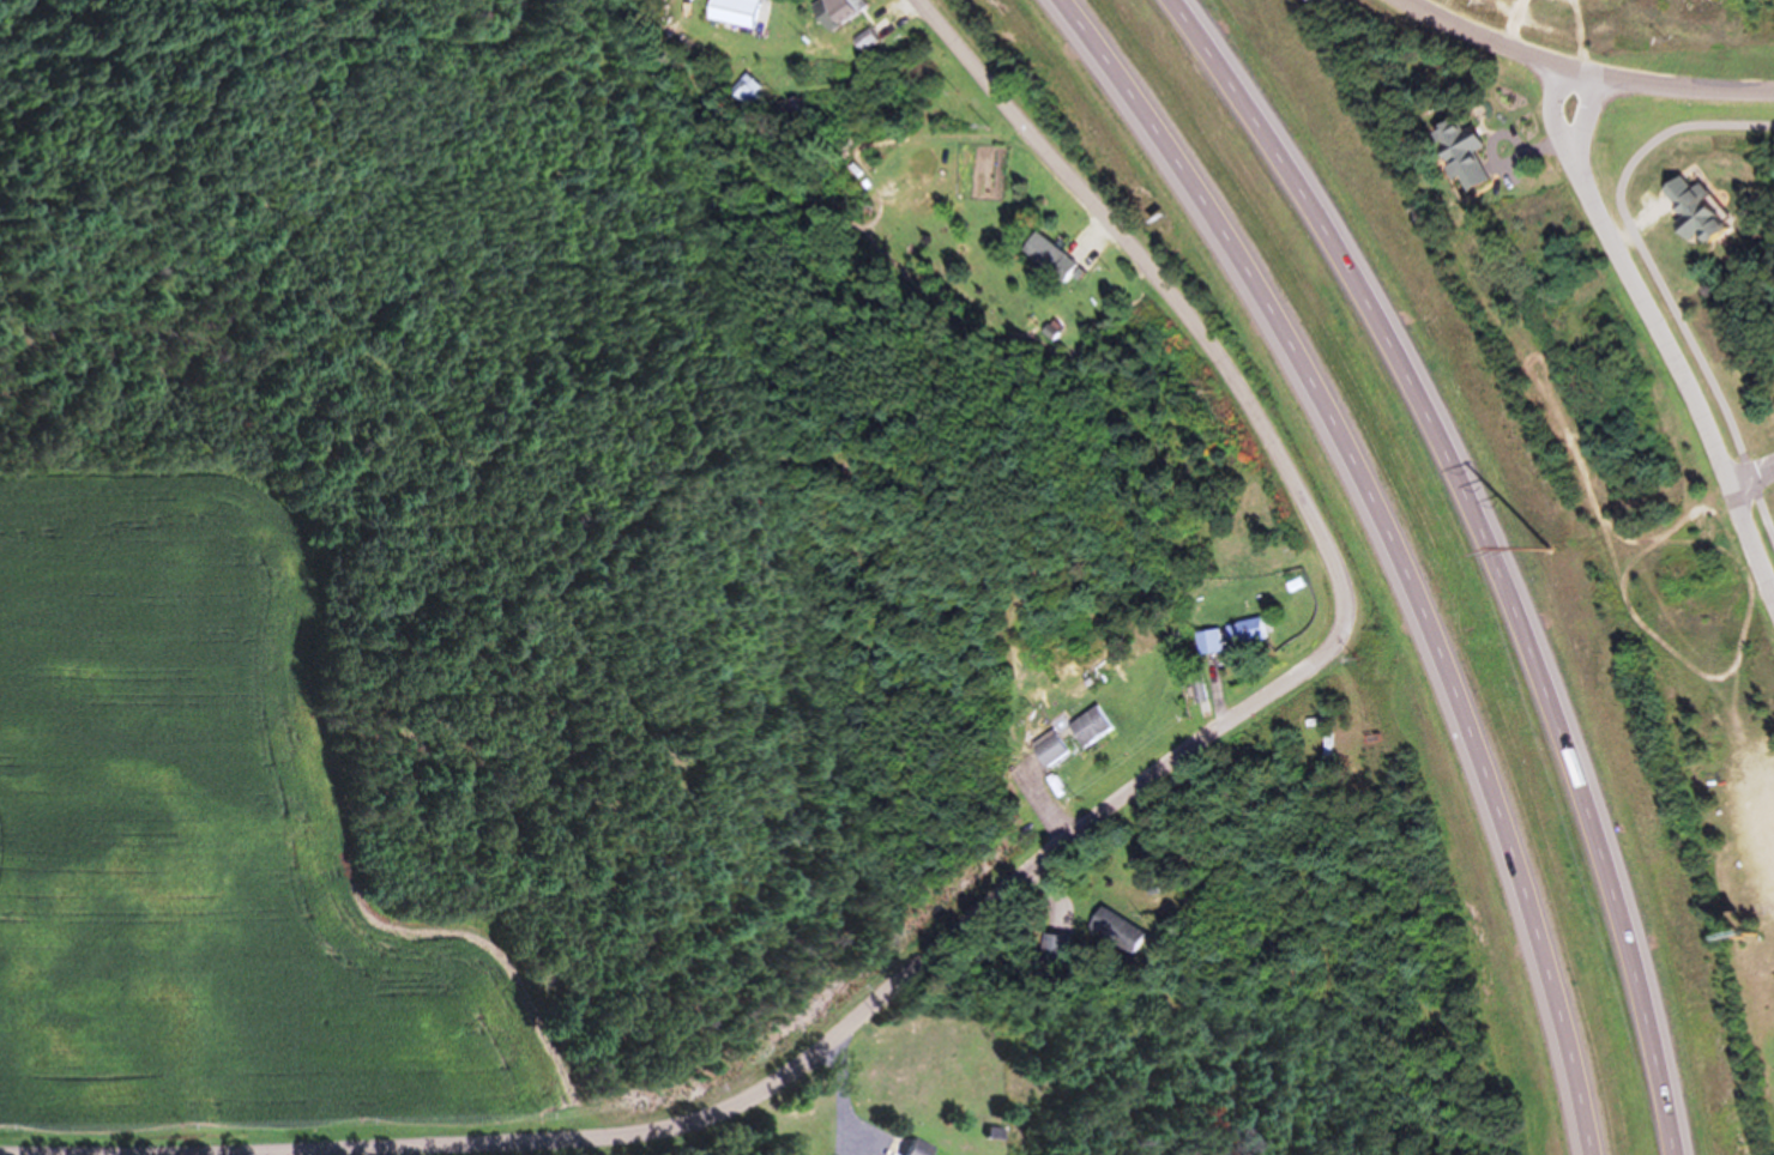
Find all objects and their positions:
building: (833, 12)
building: (731, 13)
road: (1580, 71)
road: (1550, 116)
road: (1581, 119)
building: (1455, 156)
building: (1686, 213)
building: (1045, 259)
road: (1658, 279)
road: (1681, 380)
road: (1749, 478)
road: (1408, 540)
power tower: (1547, 548)
road: (1500, 552)
building: (1242, 633)
building: (1205, 642)
building: (1194, 689)
road: (1219, 720)
building: (1086, 727)
building: (1325, 749)
building: (1045, 751)
building: (1115, 931)
building: (1054, 953)
building: (910, 1148)
building: (1581, 1154)

